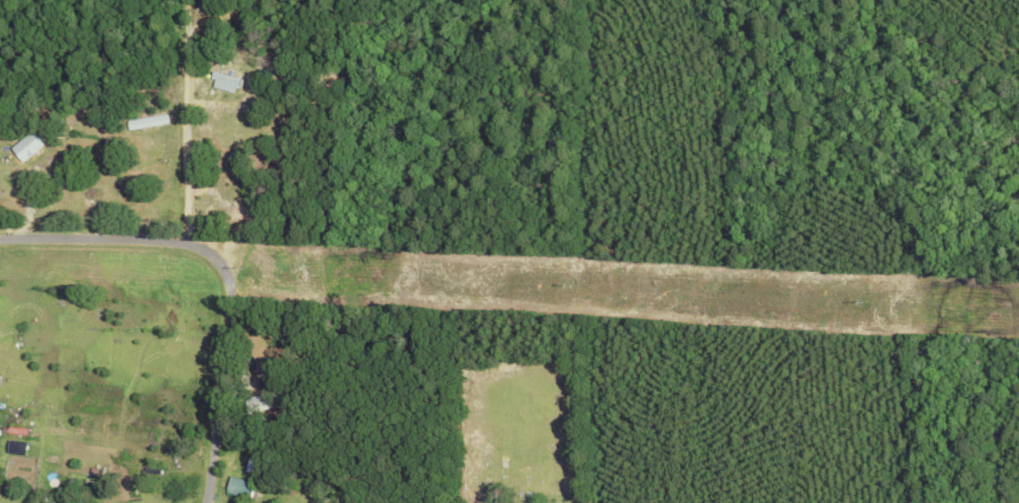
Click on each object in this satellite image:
building: (225, 81)
road: (185, 121)
building: (24, 146)
road: (221, 272)
building: (238, 486)

